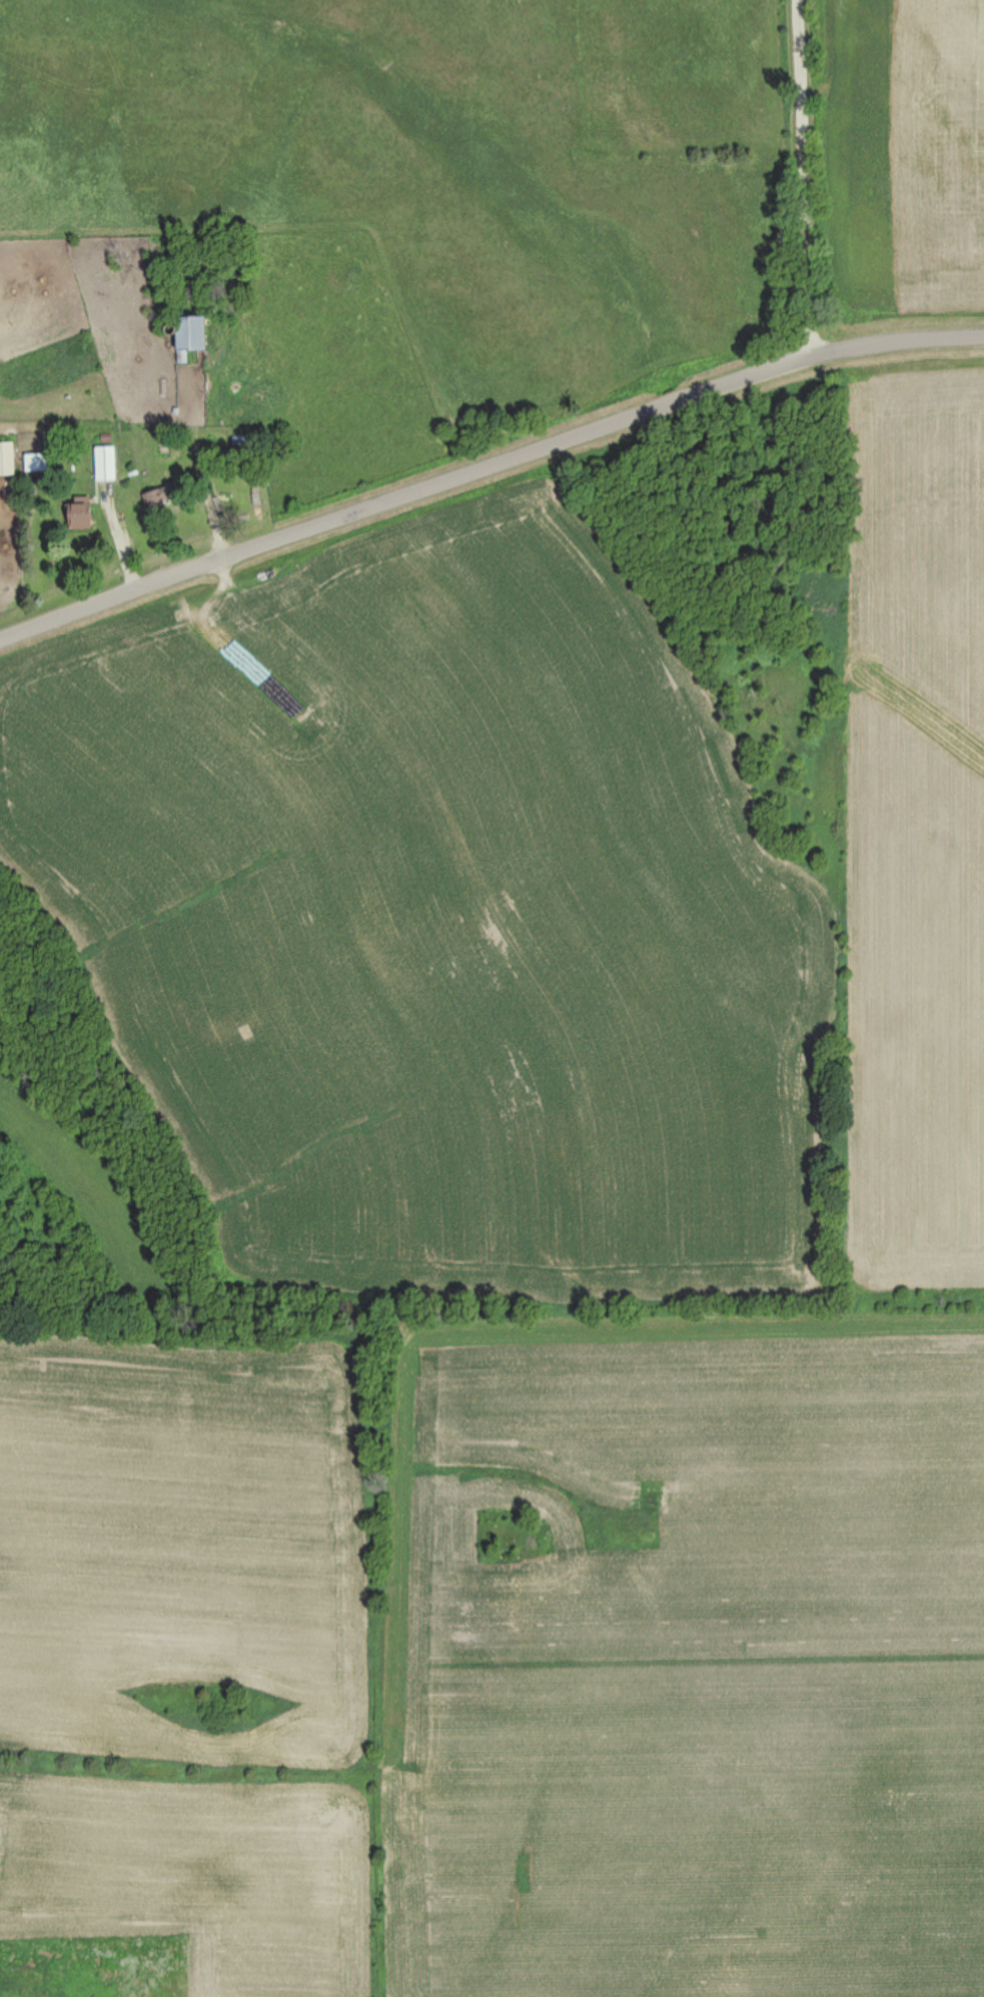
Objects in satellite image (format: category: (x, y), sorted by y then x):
building: (192, 336)
building: (8, 459)
building: (38, 463)
building: (107, 464)
road: (487, 472)
road: (209, 496)

